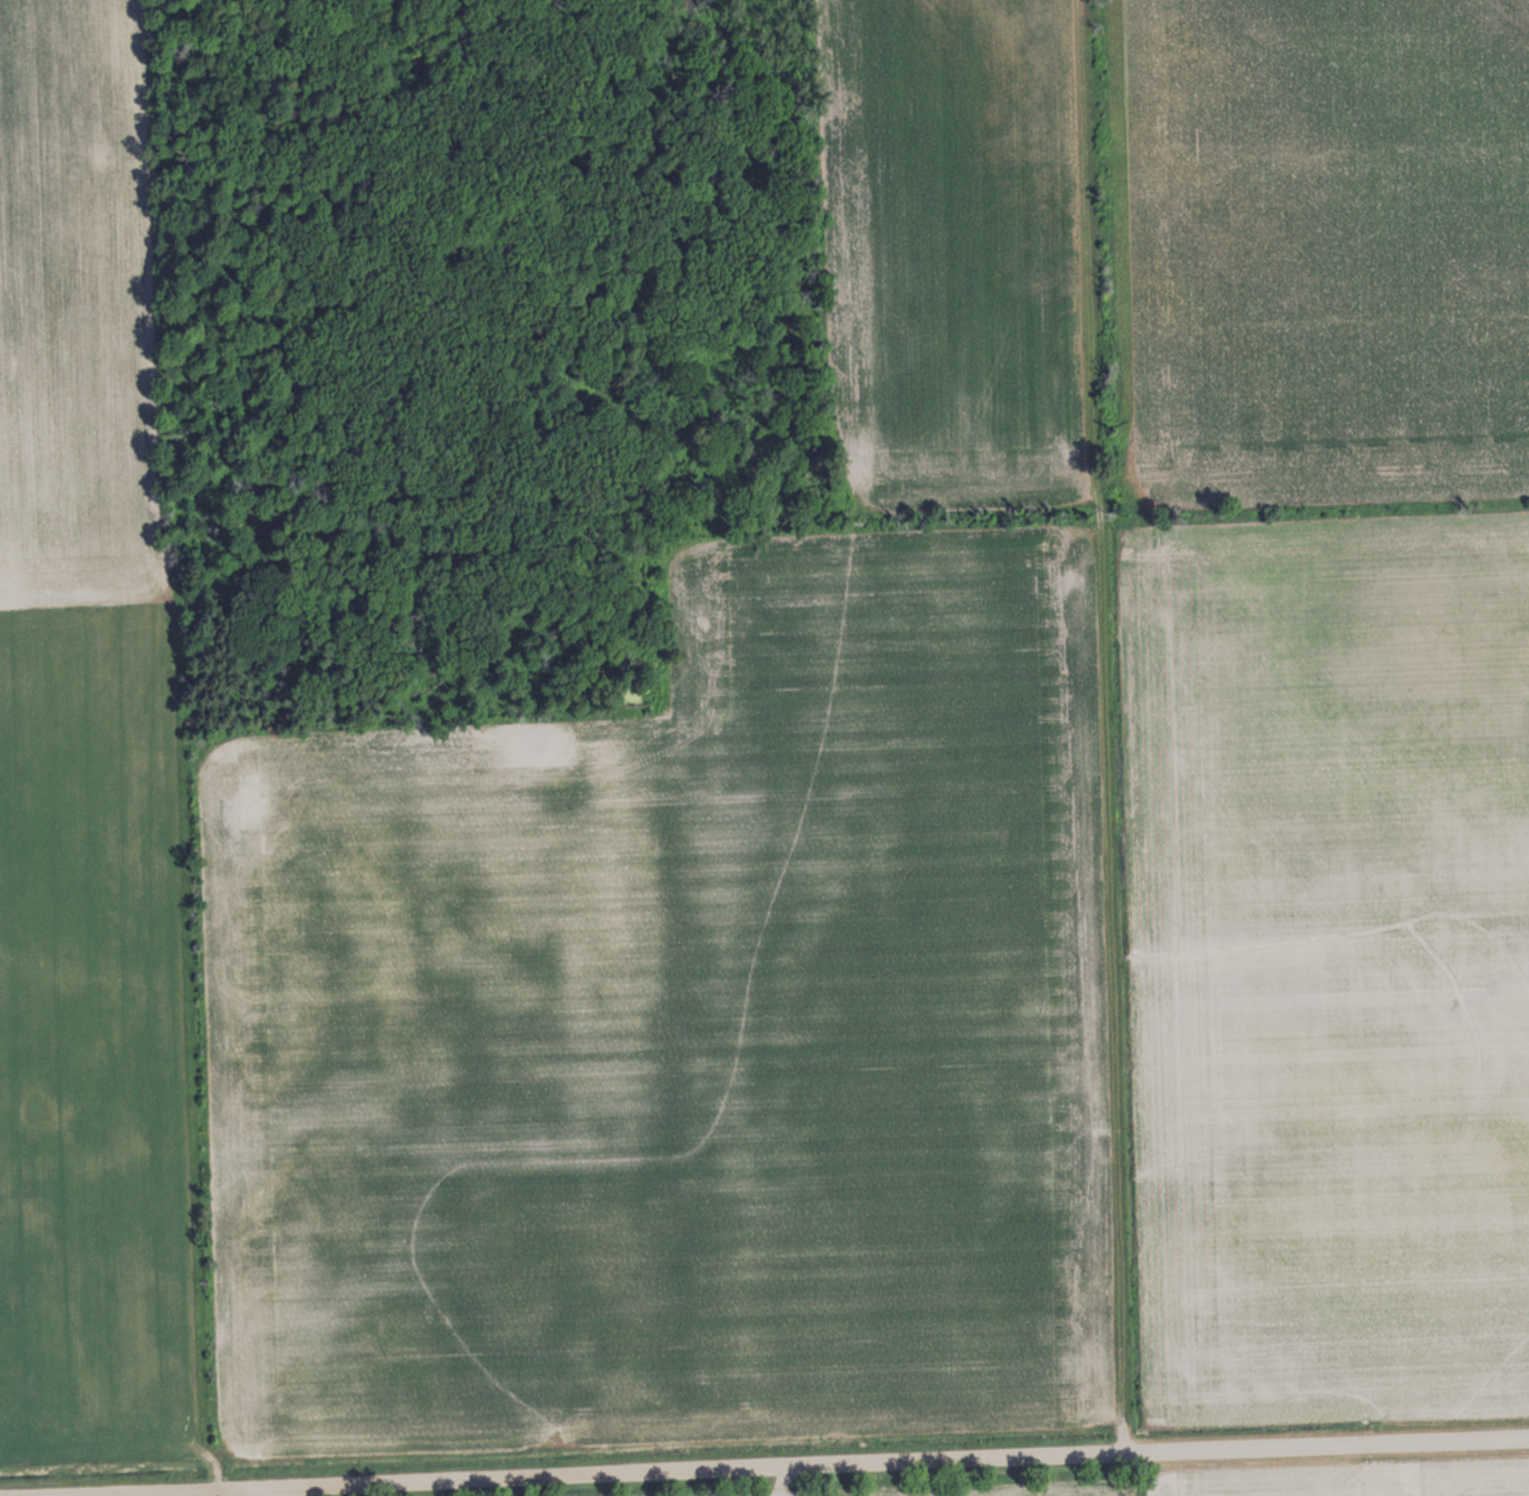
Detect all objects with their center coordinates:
road: (764, 1464)
road: (203, 1490)

